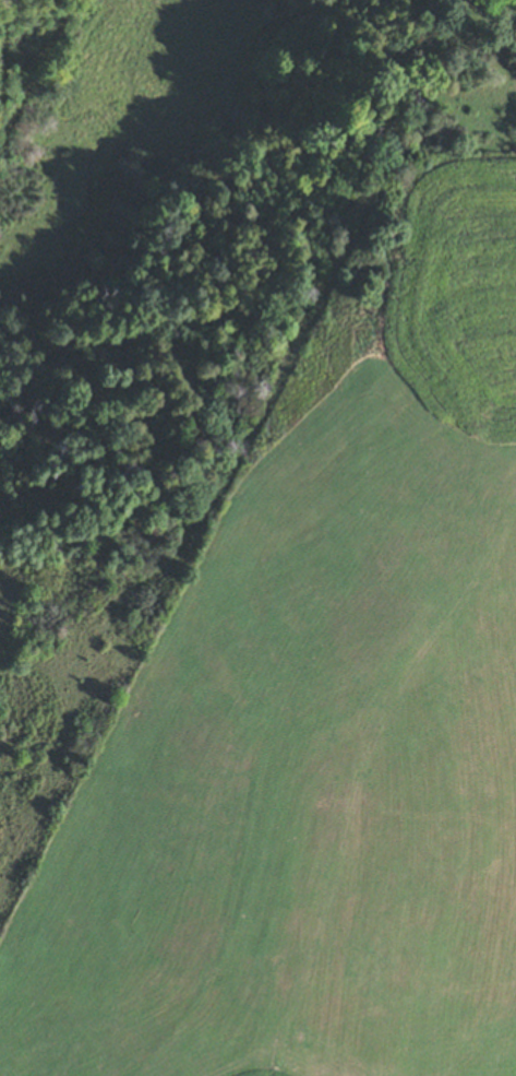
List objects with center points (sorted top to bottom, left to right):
crop: (316, 719)

